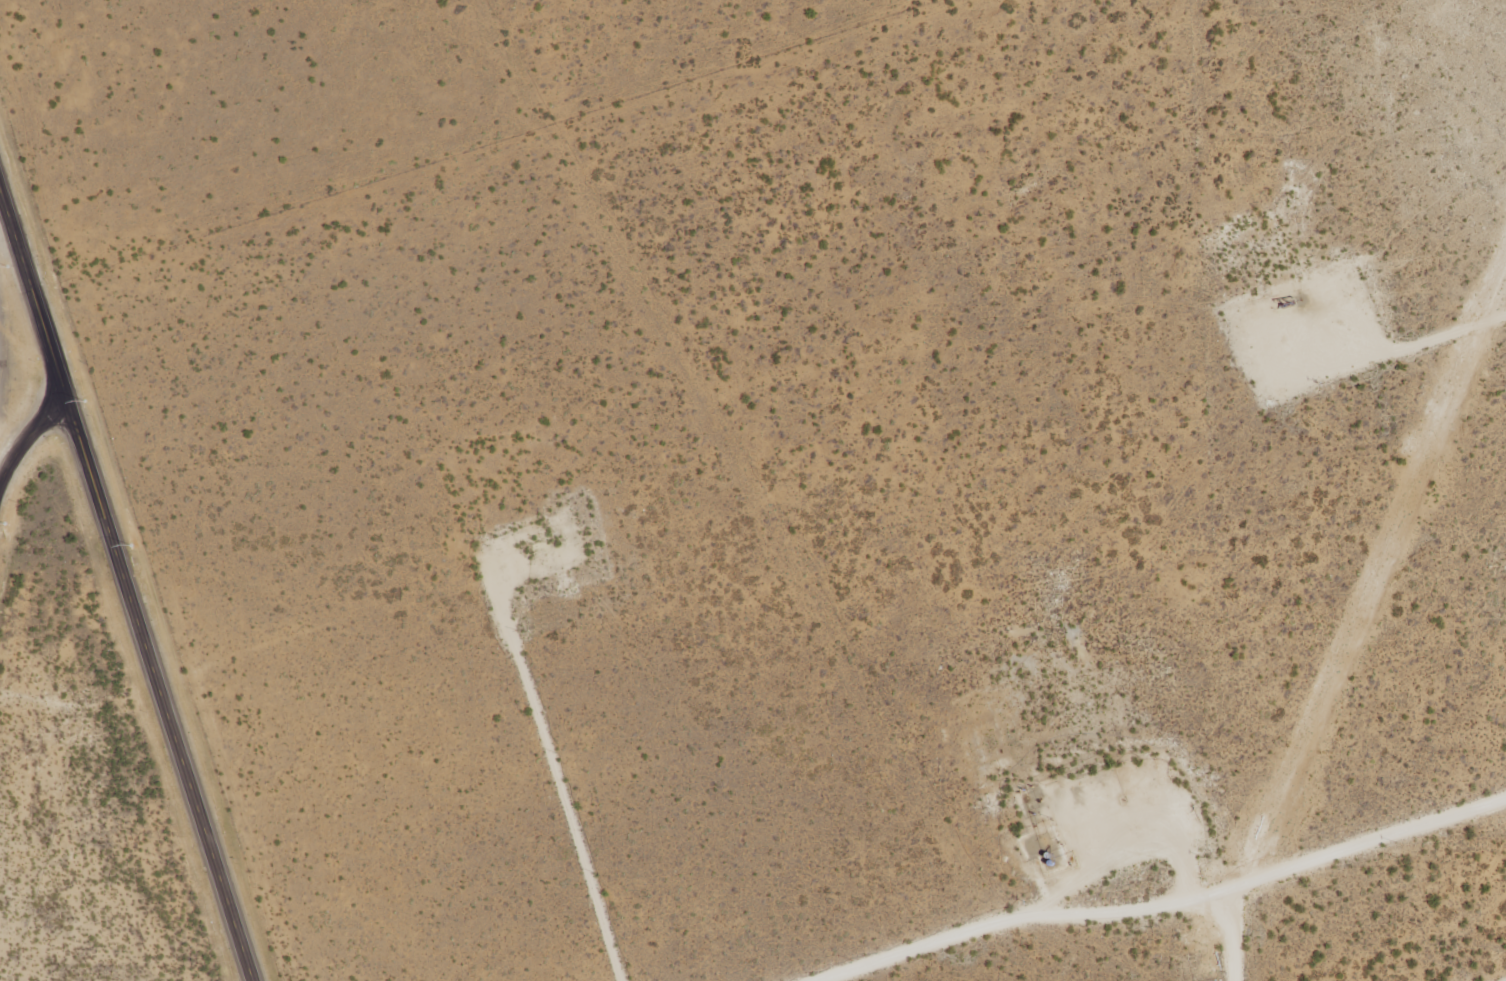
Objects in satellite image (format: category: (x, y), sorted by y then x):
road: (34, 296)
road: (1388, 349)
road: (29, 441)
road: (159, 692)
road: (556, 786)
road: (1165, 906)

